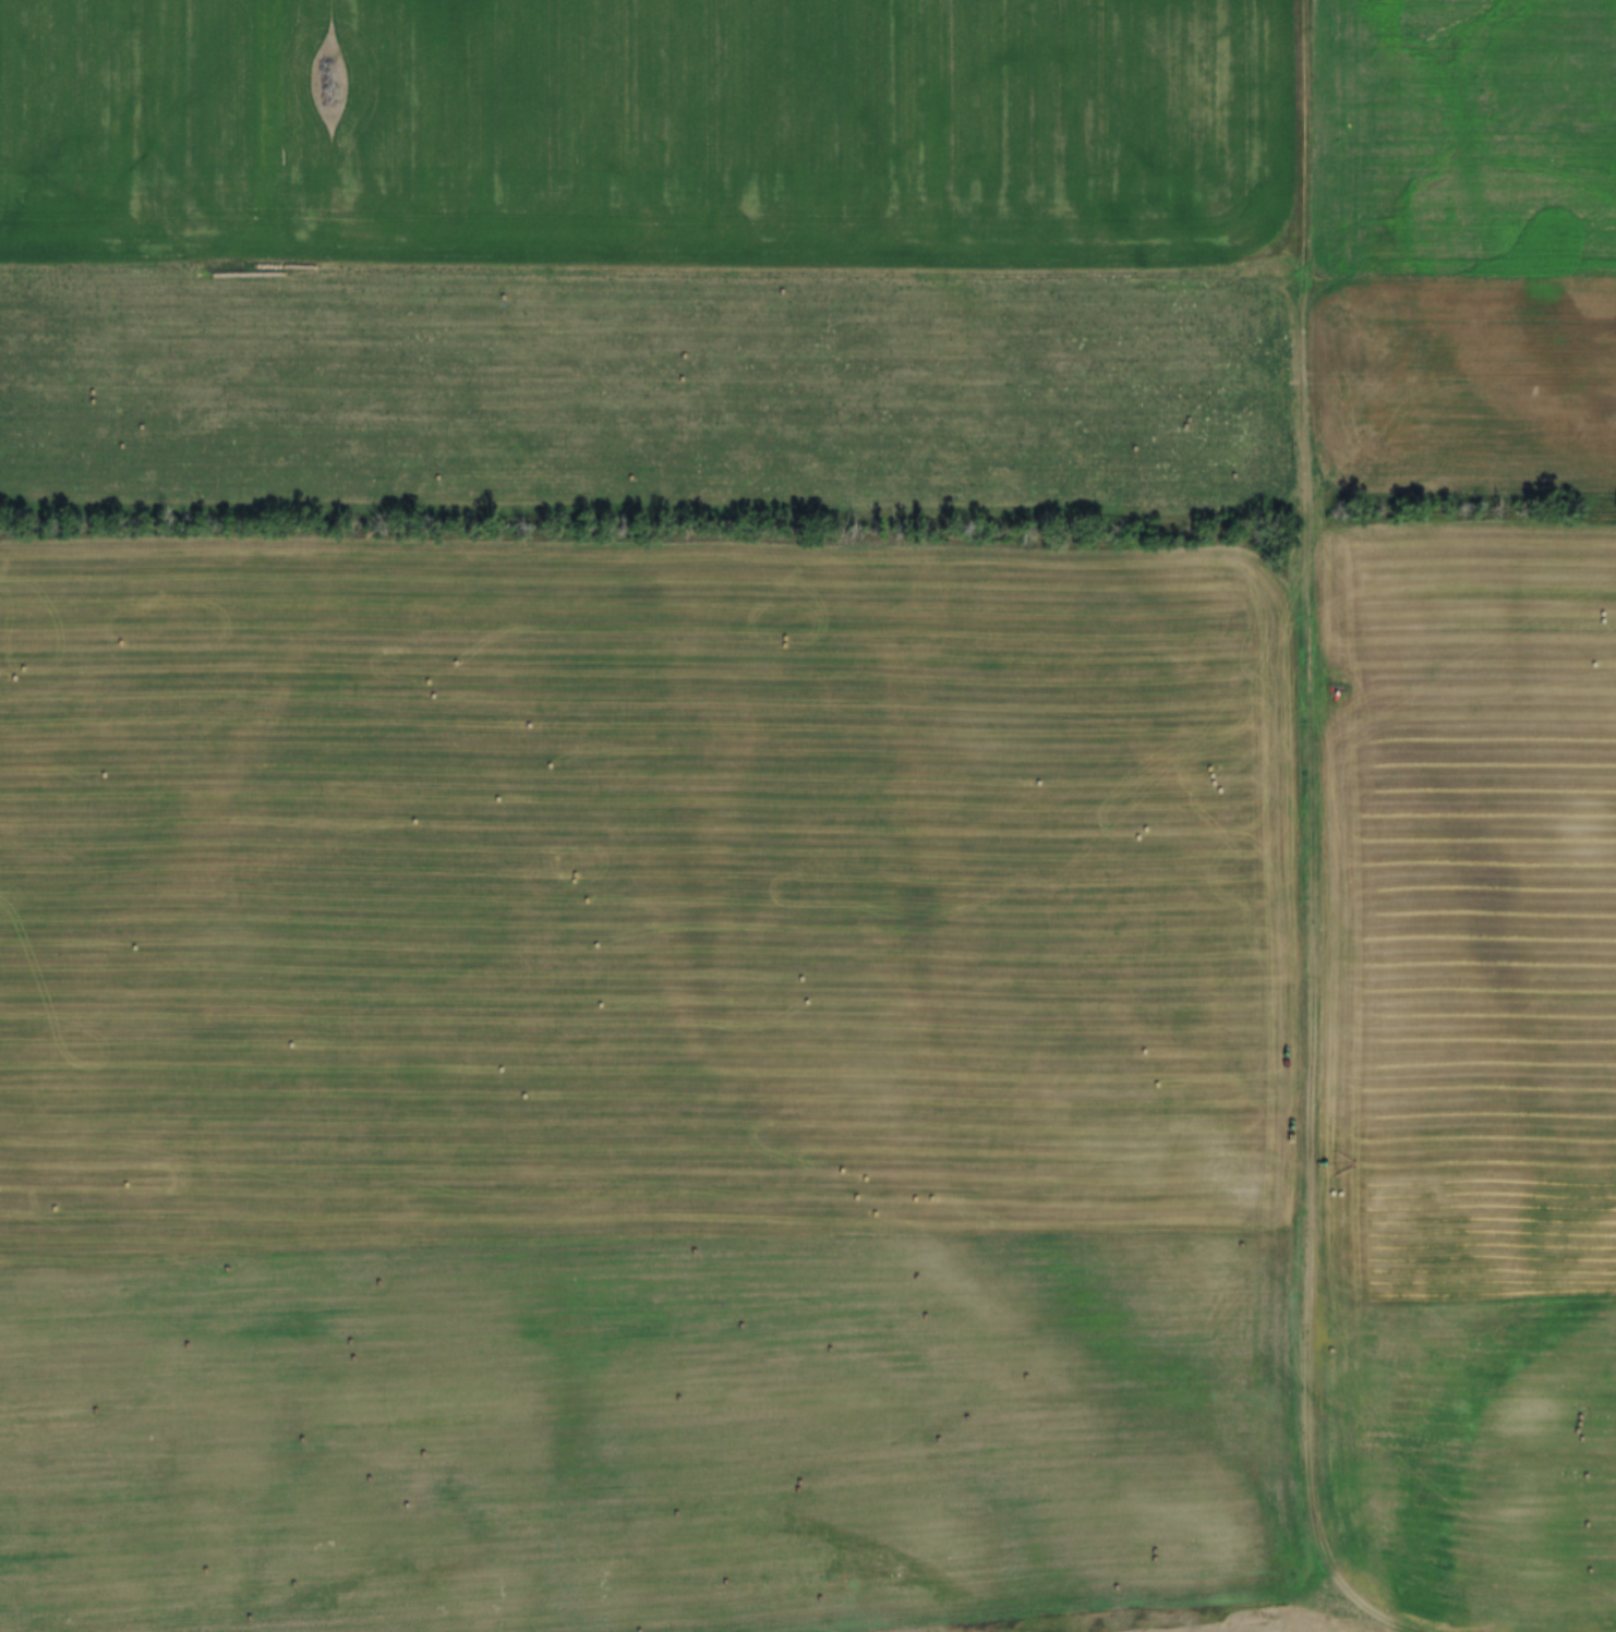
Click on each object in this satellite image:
road: (1315, 856)

